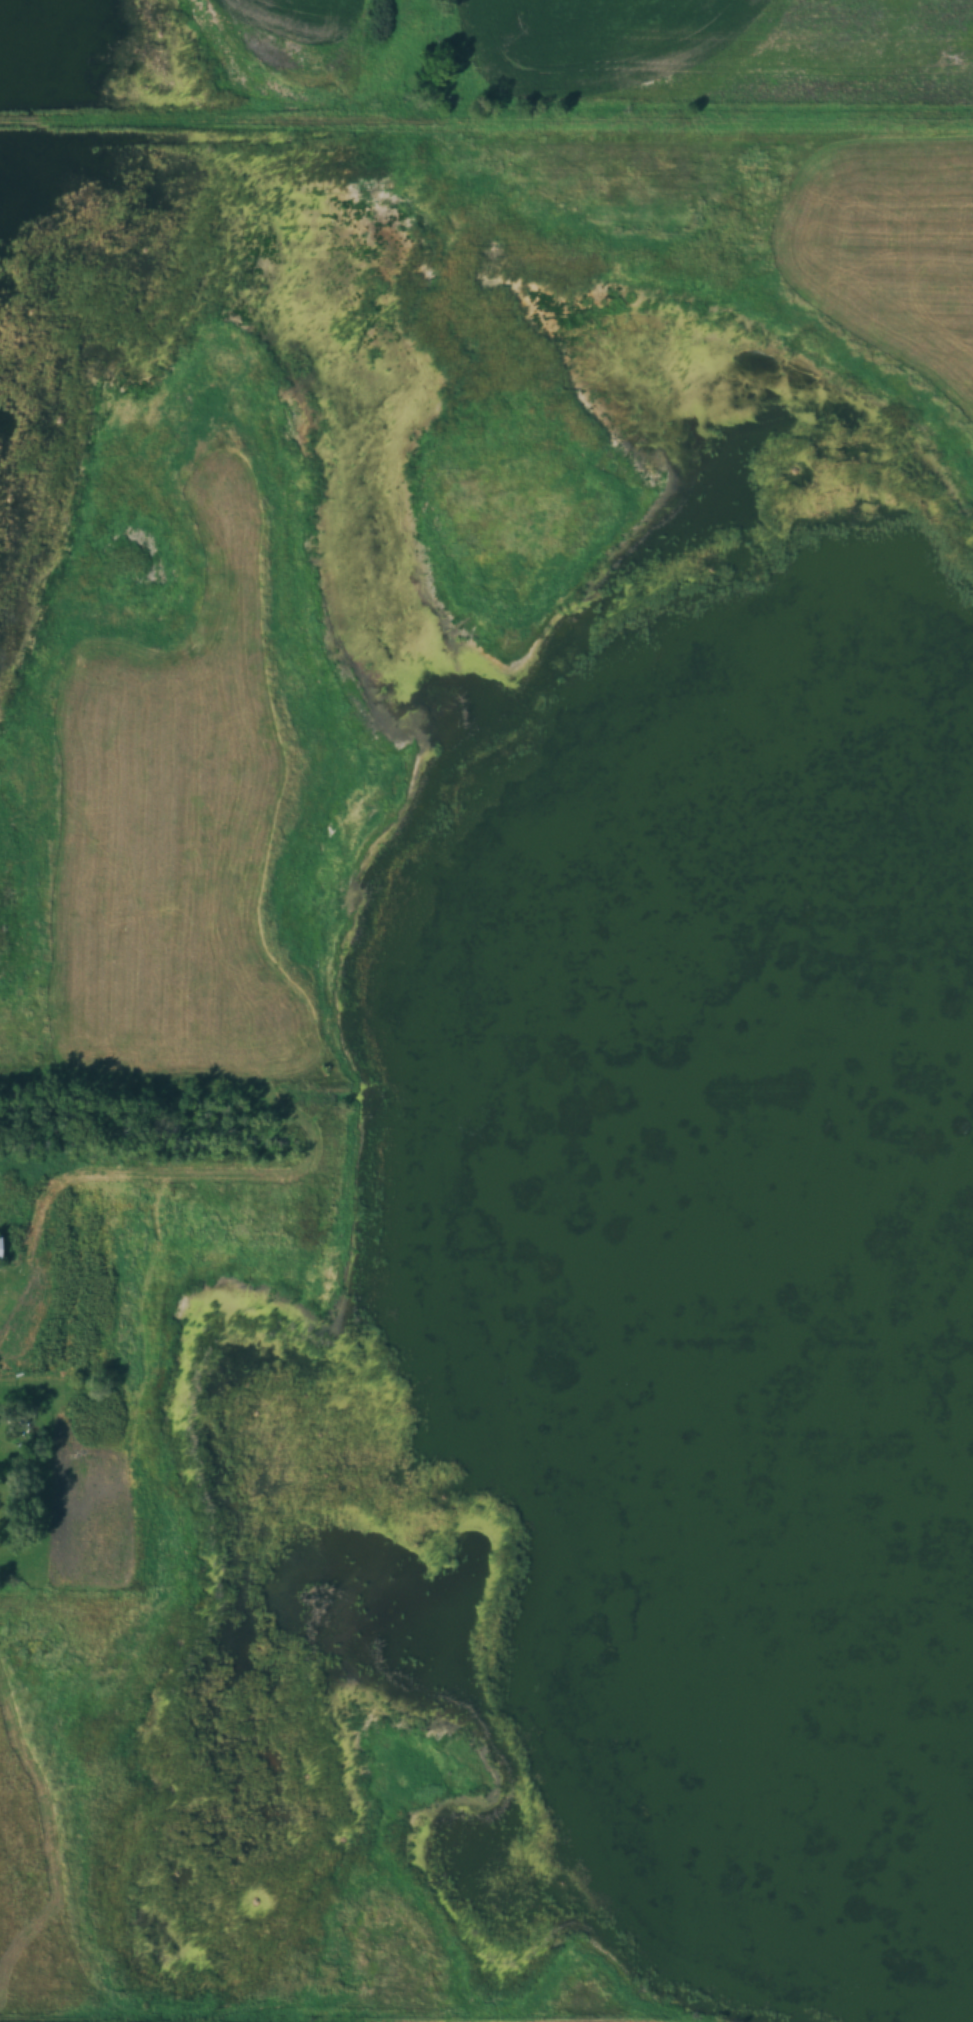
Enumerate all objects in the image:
road: (486, 120)
building: (3, 1248)

